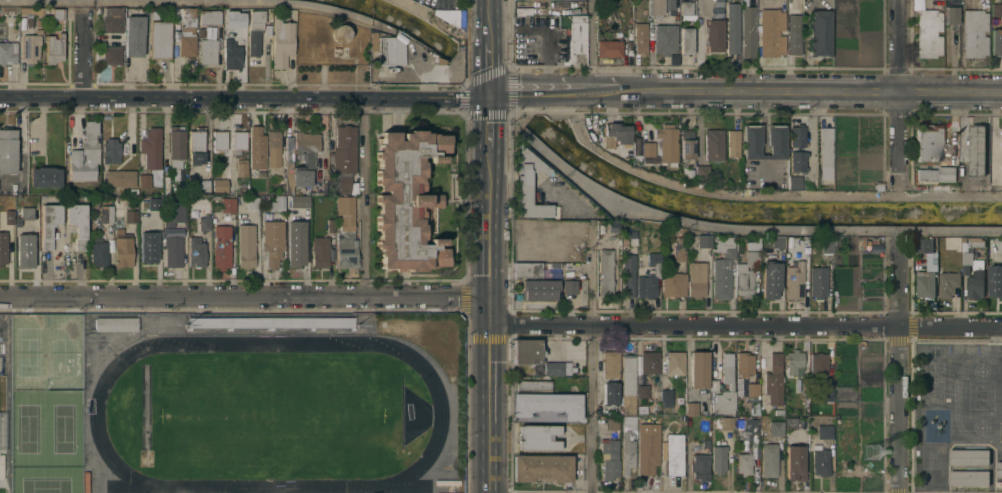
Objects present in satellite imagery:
building: (661, 7)
building: (32, 9)
building: (687, 9)
building: (997, 9)
building: (188, 12)
building: (58, 13)
building: (951, 15)
building: (209, 16)
building: (453, 17)
building: (112, 19)
building: (236, 20)
building: (39, 22)
building: (733, 27)
building: (267, 29)
building: (39, 31)
building: (209, 31)
building: (749, 31)
building: (200, 32)
building: (254, 32)
building: (340, 32)
storage tank: (340, 32)
building: (772, 32)
building: (928, 32)
building: (820, 33)
building: (975, 33)
building: (133, 34)
building: (714, 35)
building: (794, 36)
building: (640, 38)
building: (159, 39)
building: (666, 39)
building: (186, 40)
building: (686, 40)
building: (576, 41)
building: (996, 41)
building: (281, 42)
building: (30, 47)
building: (54, 48)
road: (489, 48)
building: (609, 48)
road: (591, 49)
building: (207, 50)
building: (231, 52)
building: (7, 54)
road: (86, 54)
building: (389, 54)
building: (112, 55)
road: (898, 93)
road: (745, 96)
road: (244, 97)
road: (809, 130)
building: (616, 134)
building: (796, 135)
building: (219, 138)
building: (238, 139)
building: (751, 142)
building: (775, 142)
building: (927, 142)
building: (176, 143)
building: (667, 143)
building: (687, 143)
building: (732, 143)
building: (714, 144)
building: (196, 146)
building: (151, 147)
building: (257, 147)
building: (273, 147)
building: (647, 148)
building: (345, 149)
building: (977, 149)
building: (8, 150)
building: (111, 151)
building: (825, 152)
building: (85, 154)
building: (299, 159)
building: (797, 160)
building: (241, 167)
building: (701, 171)
building: (686, 173)
building: (937, 173)
building: (45, 176)
building: (120, 177)
building: (144, 180)
building: (792, 183)
building: (344, 184)
building: (203, 185)
building: (220, 185)
building: (281, 189)
building: (525, 189)
road: (712, 191)
building: (316, 192)
road: (945, 196)
road: (363, 198)
road: (489, 199)
building: (407, 201)
building: (252, 203)
building: (299, 203)
building: (228, 204)
building: (277, 204)
building: (173, 212)
building: (106, 213)
building: (25, 214)
building: (131, 214)
building: (9, 218)
building: (49, 223)
building: (78, 223)
building: (204, 223)
building: (330, 225)
building: (681, 231)
building: (703, 240)
building: (273, 241)
building: (346, 242)
building: (776, 242)
building: (835, 242)
building: (976, 242)
building: (295, 244)
building: (1000, 244)
building: (246, 245)
building: (826, 245)
building: (925, 245)
building: (148, 246)
building: (221, 246)
building: (3, 248)
building: (123, 248)
building: (804, 248)
building: (679, 249)
building: (25, 250)
building: (173, 251)
building: (196, 251)
building: (320, 251)
building: (99, 253)
building: (653, 259)
building: (722, 267)
building: (527, 270)
building: (605, 273)
building: (628, 273)
building: (745, 275)
building: (974, 275)
building: (696, 279)
building: (769, 279)
building: (995, 280)
building: (794, 281)
building: (818, 282)
building: (948, 283)
building: (673, 284)
building: (925, 284)
building: (647, 286)
building: (569, 287)
building: (539, 289)
road: (244, 300)
road: (490, 314)
building: (327, 322)
building: (116, 324)
road: (746, 329)
building: (527, 352)
building: (1001, 353)
road: (592, 359)
building: (650, 360)
building: (794, 361)
building: (745, 362)
building: (674, 363)
building: (819, 363)
building: (610, 364)
building: (556, 369)
building: (699, 369)
building: (727, 369)
road: (899, 369)
building: (844, 370)
building: (609, 379)
building: (774, 380)
building: (628, 384)
building: (532, 385)
building: (714, 385)
building: (787, 387)
building: (753, 389)
building: (643, 391)
building: (610, 393)
building: (666, 394)
building: (827, 394)
building: (724, 402)
building: (548, 404)
building: (691, 408)
building: (642, 409)
road: (489, 410)
building: (778, 411)
track: (438, 414)
park: (268, 416)
building: (626, 420)
building: (612, 423)
building: (725, 423)
building: (791, 423)
building: (748, 425)
building: (776, 428)
building: (824, 431)
building: (539, 437)
building: (705, 443)
building: (628, 451)
building: (647, 452)
building: (674, 454)
building: (969, 456)
building: (610, 458)
building: (719, 459)
building: (769, 460)
building: (820, 460)
building: (795, 462)
building: (744, 463)
building: (700, 466)
building: (543, 467)
building: (999, 468)
building: (969, 477)

